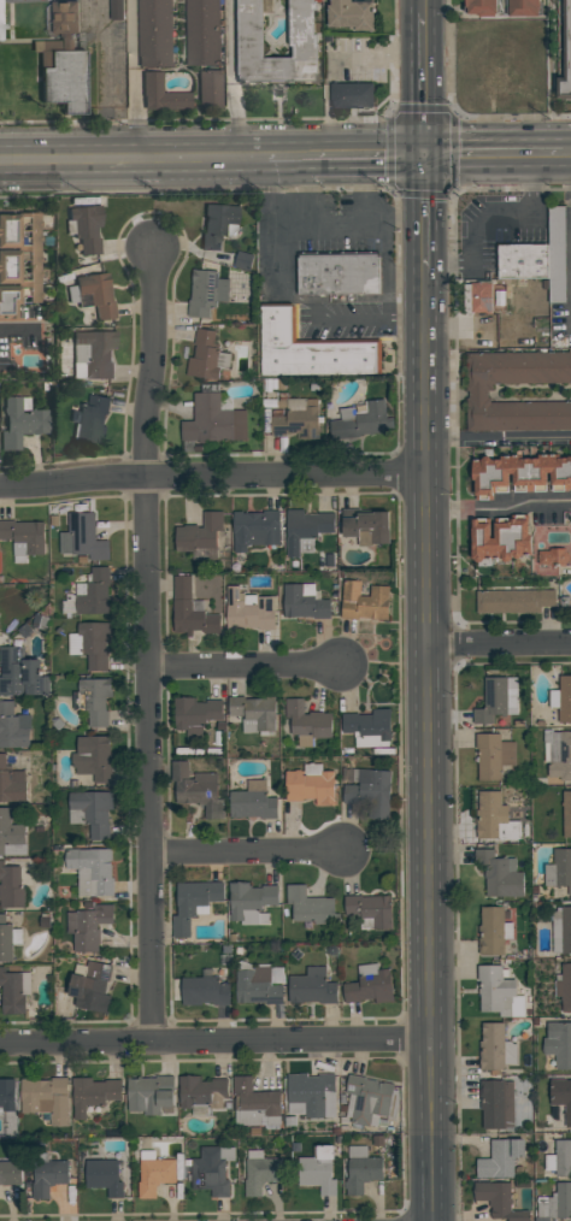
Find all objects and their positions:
road: (420, 6)
building: (481, 6)
building: (525, 7)
building: (116, 10)
building: (351, 14)
building: (1, 16)
building: (154, 33)
building: (202, 33)
building: (569, 40)
road: (232, 41)
building: (277, 41)
road: (370, 55)
building: (64, 61)
road: (108, 82)
road: (422, 85)
building: (208, 89)
building: (161, 94)
building: (351, 95)
road: (326, 116)
road: (236, 122)
road: (365, 159)
traffic signals: (422, 159)
road: (494, 159)
road: (569, 159)
road: (288, 160)
road: (254, 161)
road: (120, 163)
road: (310, 193)
road: (363, 193)
road: (422, 216)
building: (218, 224)
road: (340, 225)
road: (404, 225)
building: (86, 226)
building: (557, 253)
building: (18, 261)
building: (523, 261)
building: (337, 275)
building: (206, 291)
building: (95, 293)
building: (487, 296)
road: (385, 297)
road: (318, 315)
building: (310, 350)
building: (94, 352)
building: (206, 356)
building: (518, 390)
building: (295, 417)
building: (92, 419)
building: (20, 420)
building: (213, 420)
building: (360, 420)
road: (498, 440)
building: (520, 473)
road: (212, 474)
road: (499, 509)
building: (366, 526)
building: (305, 527)
building: (254, 529)
building: (199, 532)
building: (23, 537)
building: (82, 537)
building: (500, 538)
building: (551, 556)
building: (93, 592)
building: (304, 601)
building: (364, 601)
building: (513, 601)
building: (249, 609)
building: (190, 610)
building: (90, 643)
road: (149, 644)
road: (499, 645)
road: (246, 668)
building: (22, 674)
building: (496, 698)
building: (561, 698)
building: (93, 700)
road: (428, 706)
building: (254, 712)
building: (196, 714)
building: (307, 722)
building: (13, 726)
building: (369, 727)
building: (493, 754)
building: (557, 754)
building: (93, 757)
building: (12, 784)
building: (311, 784)
building: (196, 789)
building: (370, 790)
building: (253, 801)
building: (92, 812)
building: (566, 813)
building: (494, 818)
building: (11, 834)
road: (246, 851)
building: (92, 869)
building: (559, 869)
building: (499, 873)
building: (11, 886)
building: (251, 902)
building: (194, 903)
building: (310, 904)
building: (371, 910)
building: (88, 926)
building: (493, 930)
building: (561, 930)
building: (7, 938)
building: (369, 984)
building: (92, 986)
building: (257, 986)
building: (311, 986)
building: (565, 986)
building: (200, 990)
building: (14, 991)
building: (498, 991)
road: (216, 1039)
building: (559, 1043)
building: (495, 1046)
building: (92, 1093)
building: (201, 1093)
building: (151, 1095)
building: (312, 1095)
building: (7, 1096)
building: (561, 1096)
building: (46, 1097)
building: (367, 1099)
building: (496, 1103)
building: (255, 1104)
building: (500, 1158)
building: (559, 1158)
building: (212, 1169)
building: (318, 1169)
building: (361, 1169)
building: (11, 1172)
building: (260, 1172)
building: (154, 1173)
building: (48, 1174)
building: (104, 1175)
road: (432, 1180)
building: (499, 1199)
building: (555, 1203)

